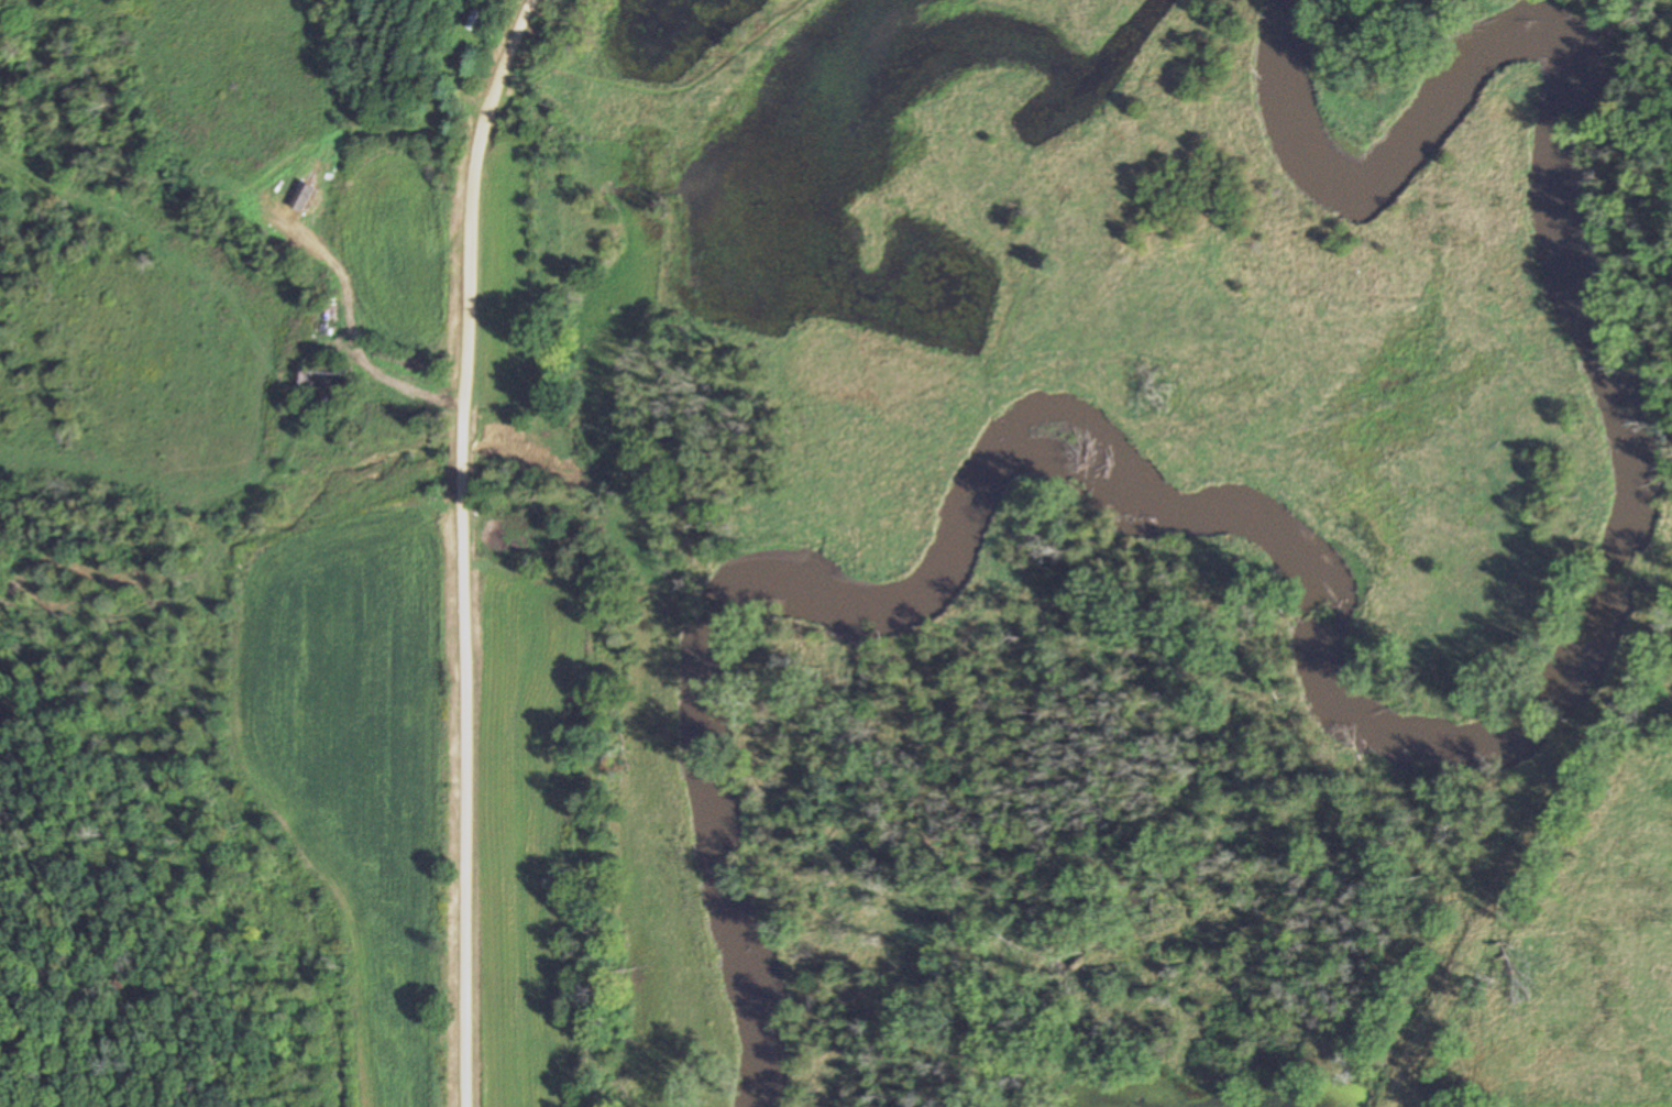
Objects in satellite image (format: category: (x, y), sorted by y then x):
building: (327, 379)
road: (468, 548)
river: (1340, 686)

